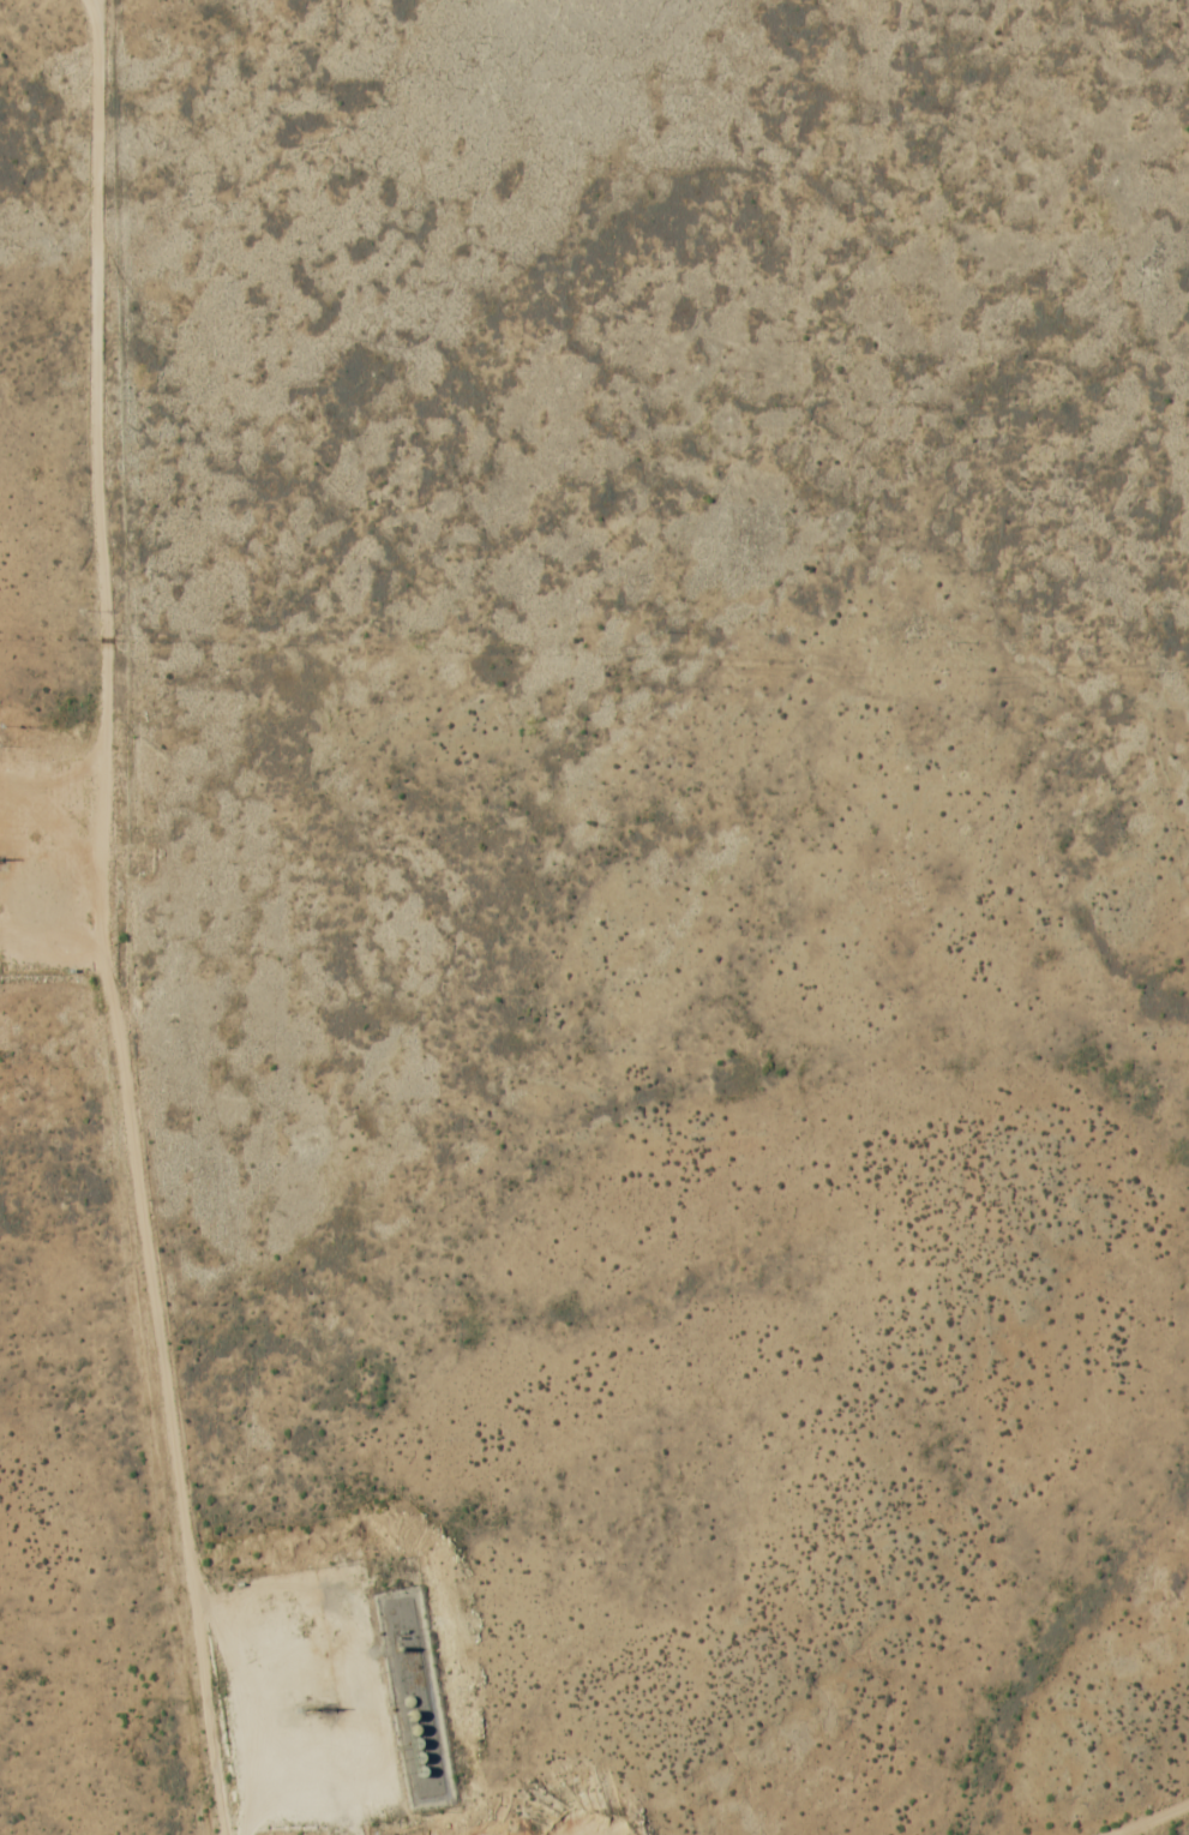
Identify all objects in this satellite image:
road: (109, 899)
road: (55, 925)
road: (258, 1807)
road: (1142, 1815)

